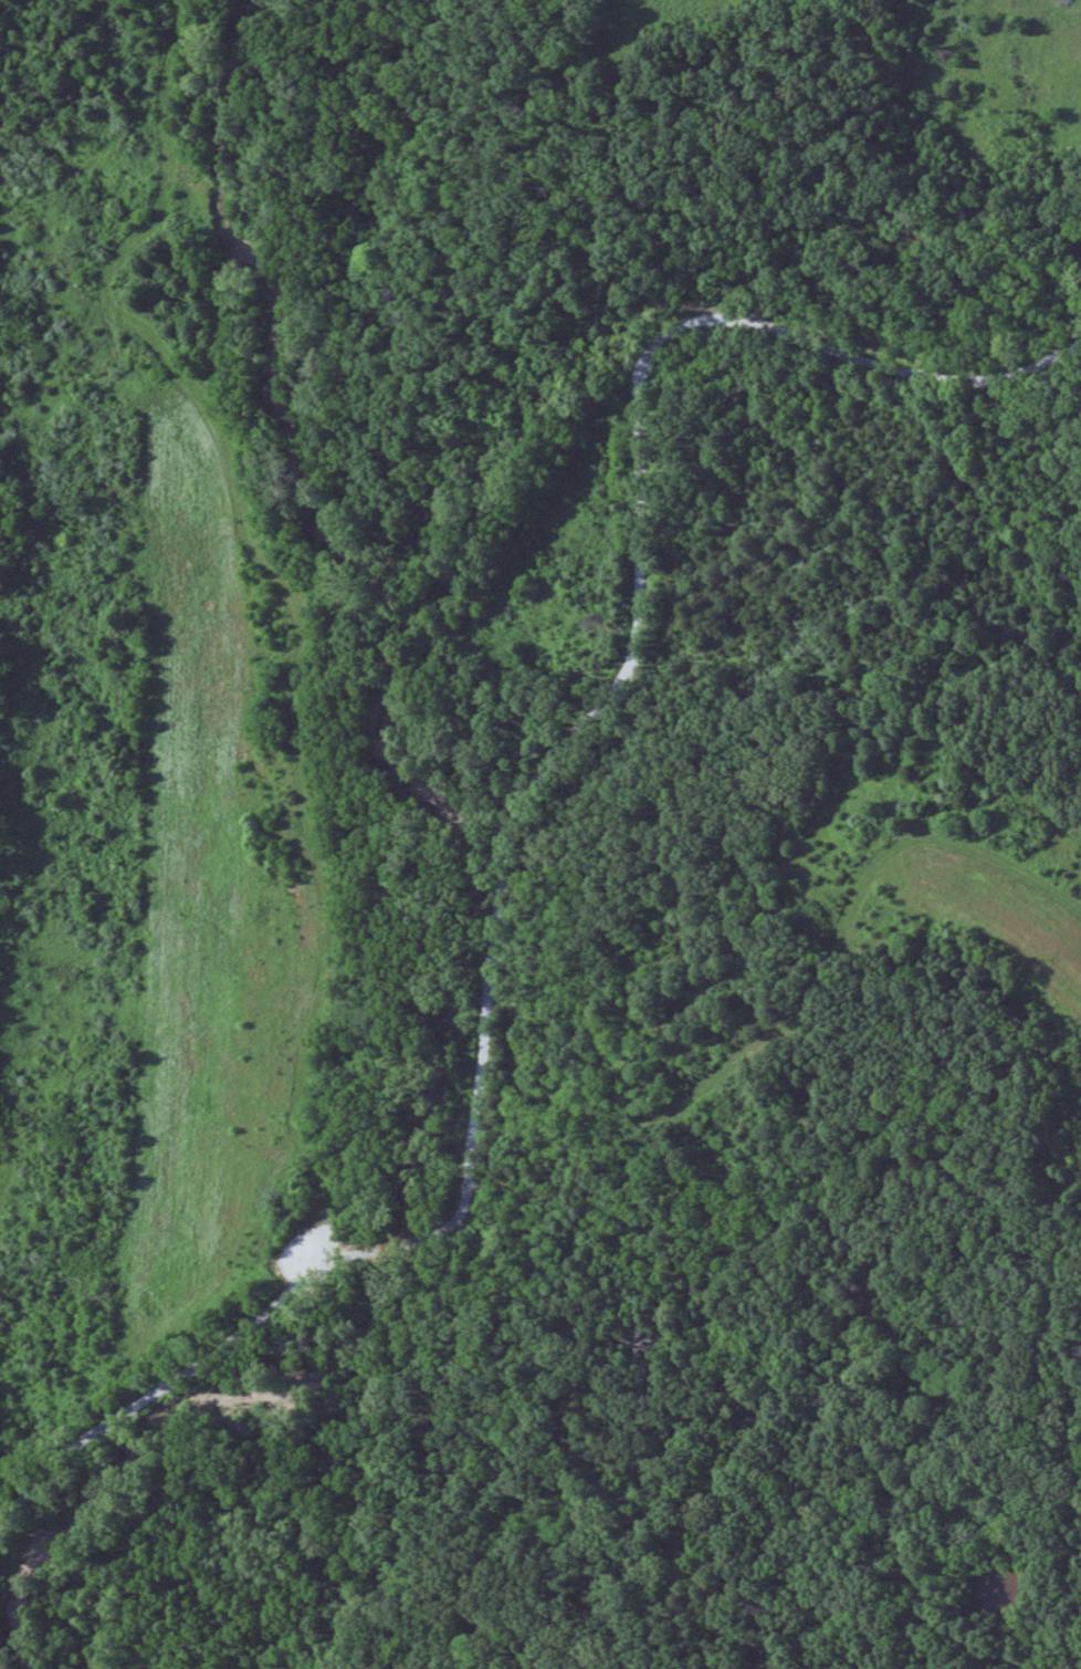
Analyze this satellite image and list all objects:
road: (517, 831)

